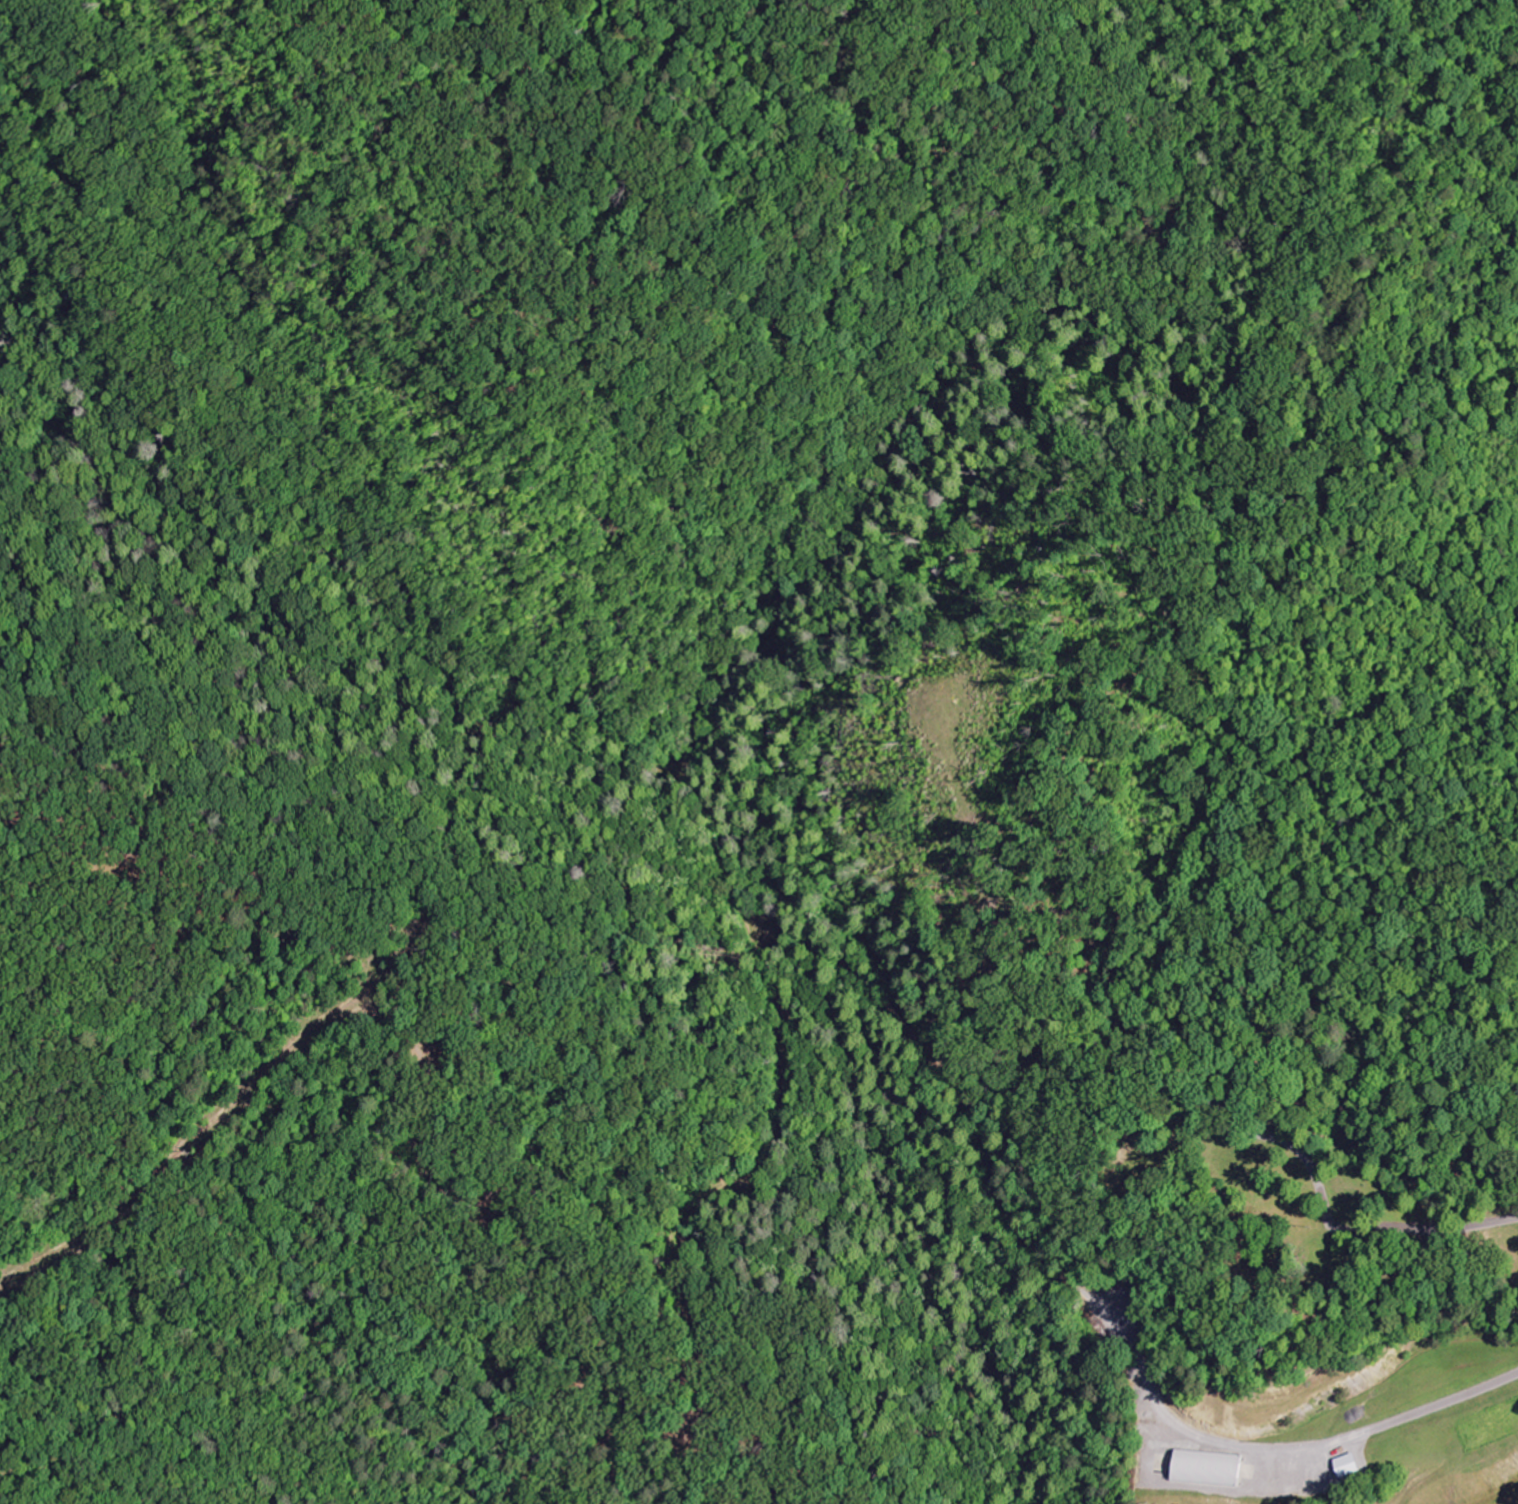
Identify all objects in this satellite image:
road: (1336, 1220)
road: (1283, 1451)
building: (1351, 1465)
building: (1212, 1469)

